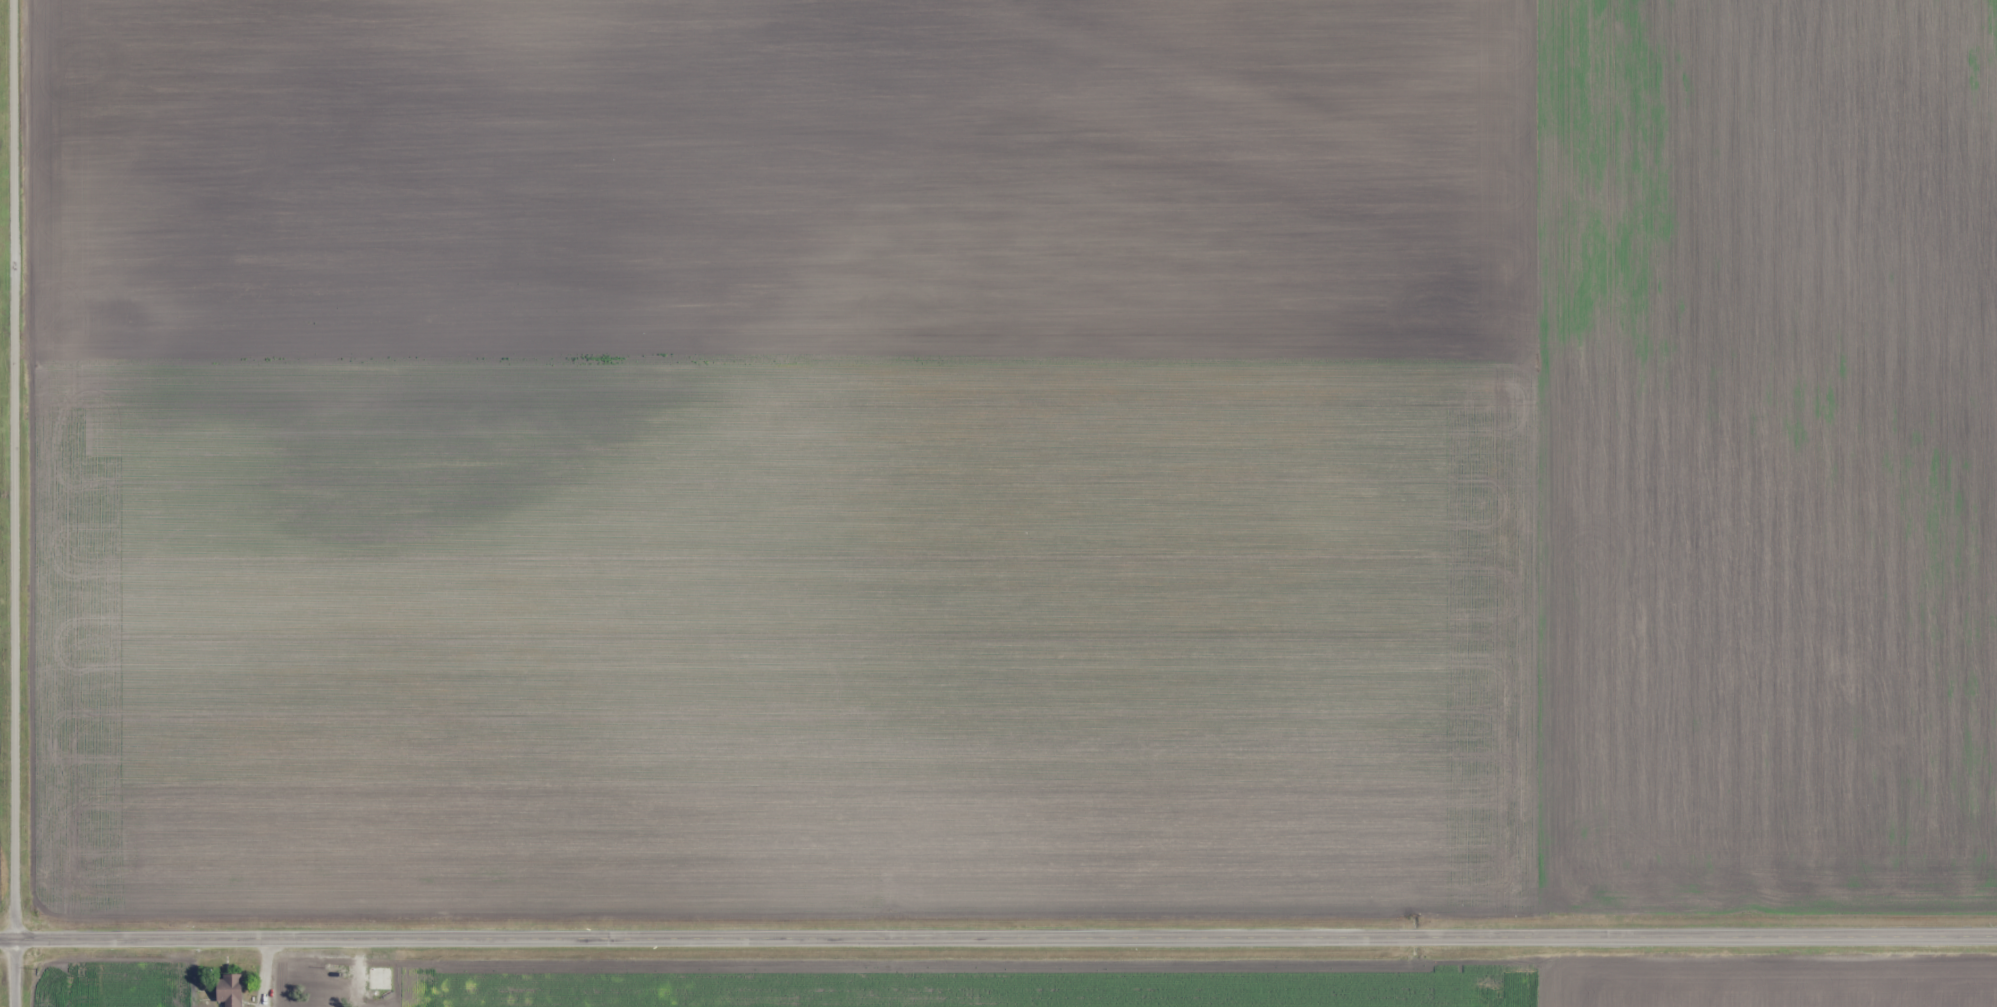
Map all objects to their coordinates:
road: (13, 503)
road: (998, 937)
building: (380, 978)
building: (229, 990)

